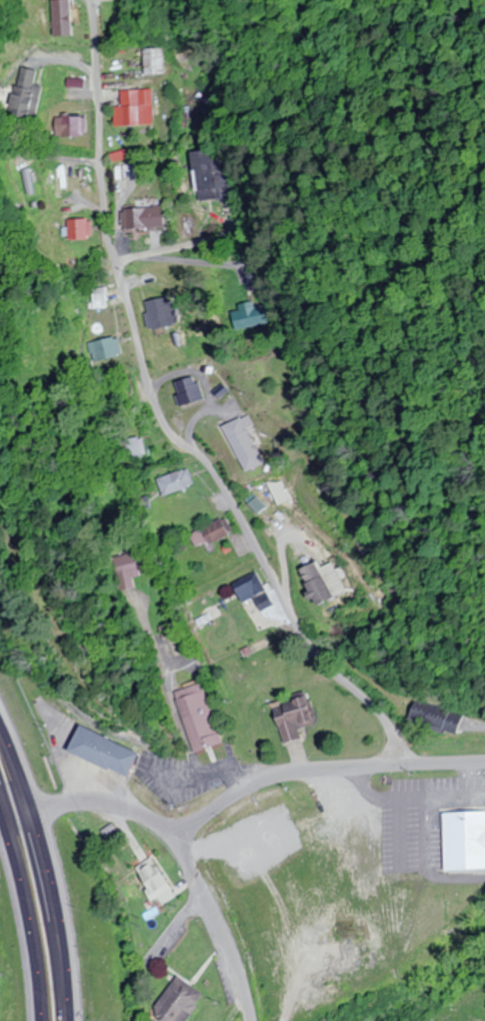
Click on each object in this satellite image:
building: (60, 18)
building: (148, 62)
building: (24, 96)
building: (133, 108)
building: (70, 127)
building: (209, 176)
building: (143, 218)
building: (80, 228)
building: (99, 297)
building: (159, 312)
building: (249, 314)
building: (105, 348)
building: (186, 390)
building: (240, 442)
road: (184, 446)
building: (134, 448)
building: (174, 482)
building: (209, 533)
building: (129, 568)
building: (247, 587)
building: (315, 590)
building: (431, 716)
building: (294, 718)
building: (204, 725)
building: (111, 760)
road: (319, 770)
road: (14, 804)
road: (110, 807)
building: (464, 840)
road: (51, 870)
building: (157, 884)
road: (27, 915)
road: (223, 931)
building: (282, 936)
building: (179, 1002)

